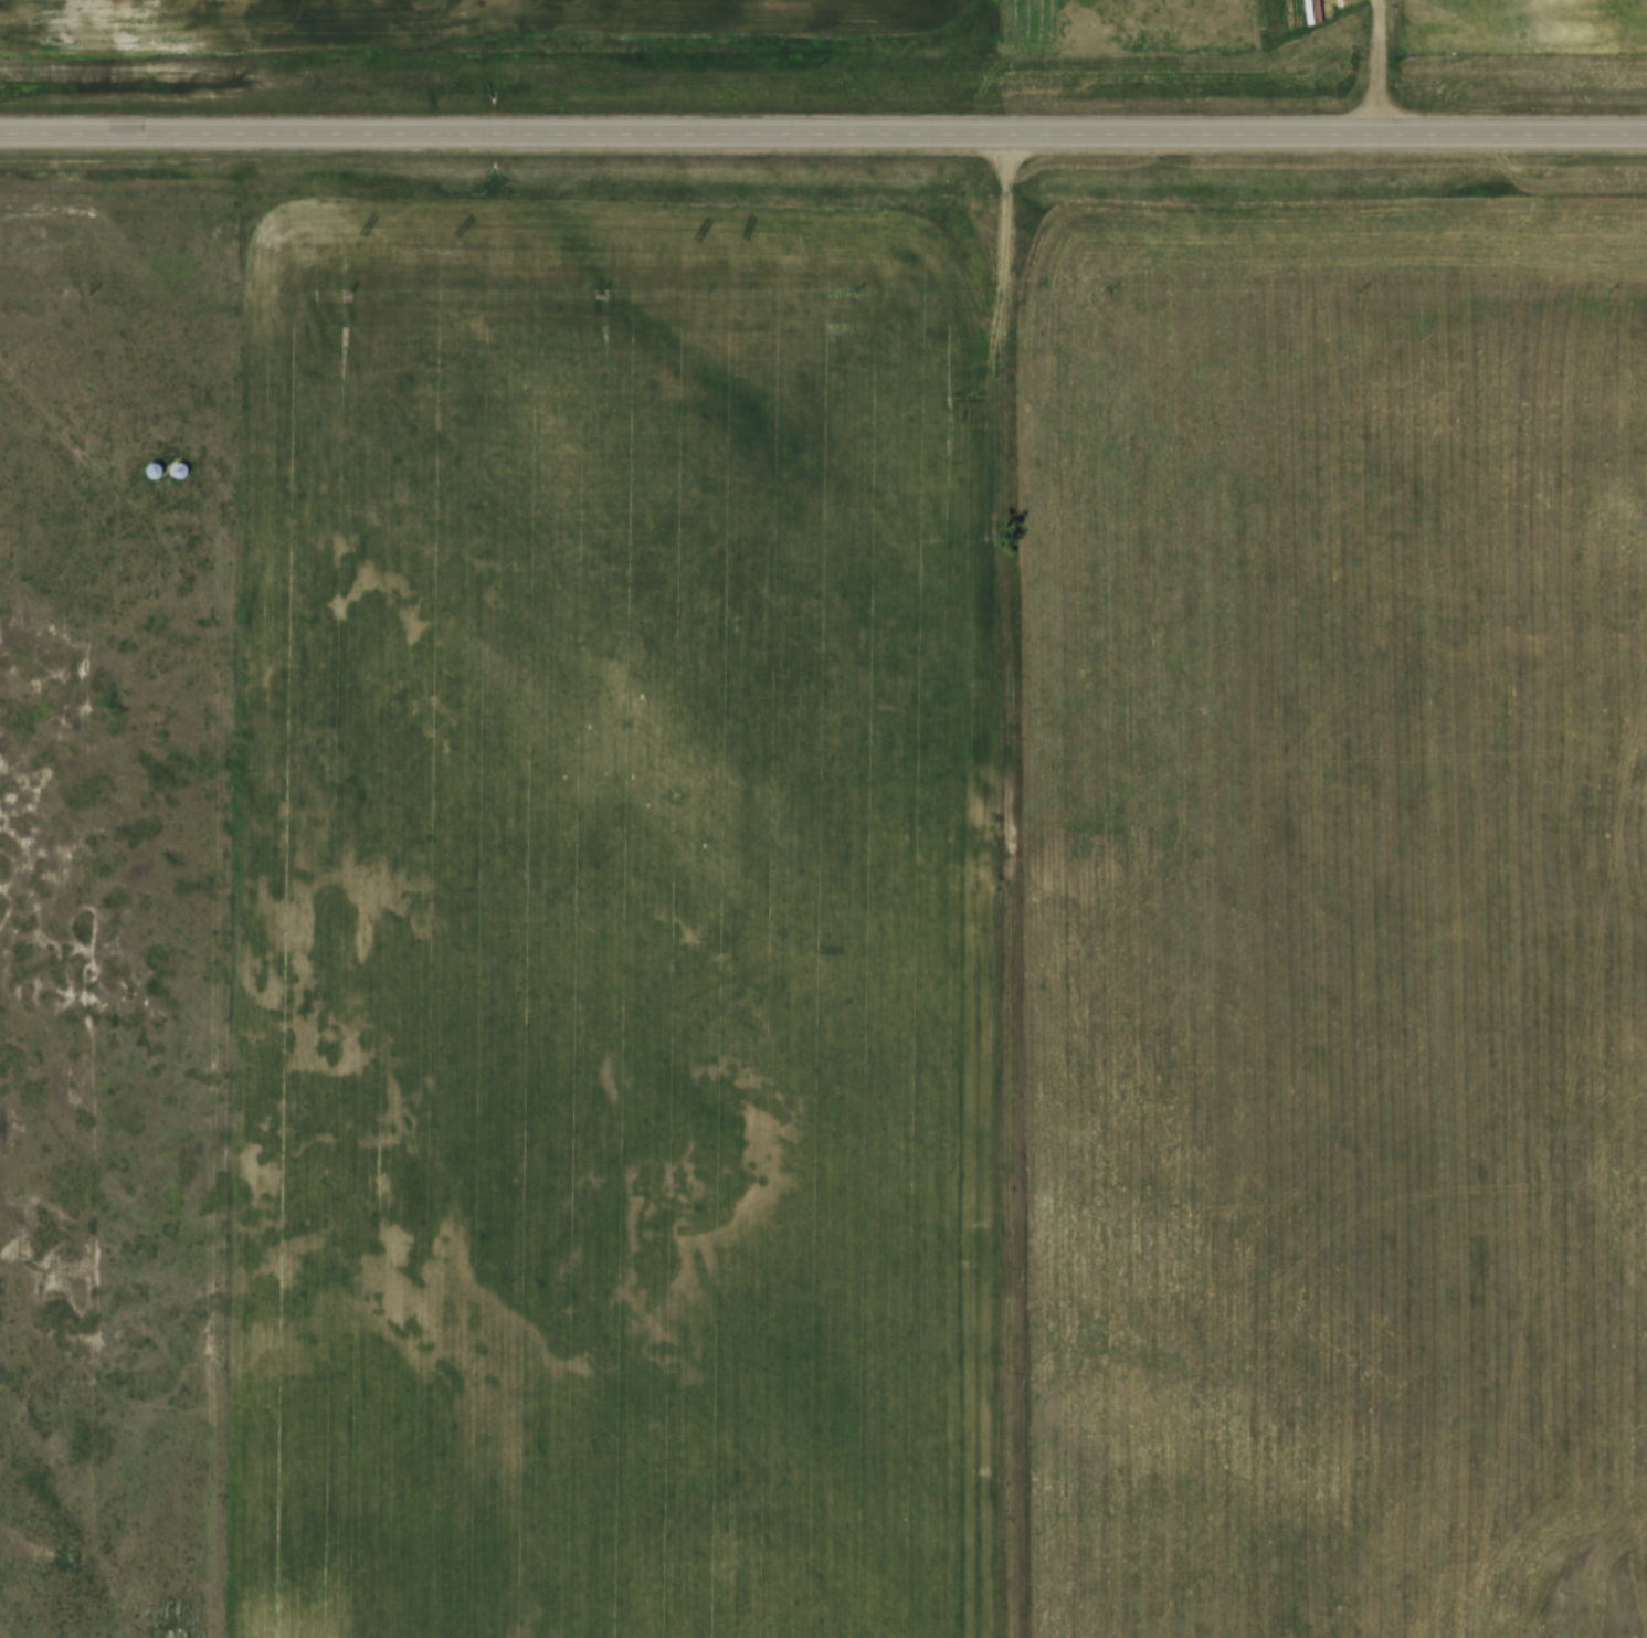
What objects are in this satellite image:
road: (823, 140)
road: (989, 889)

